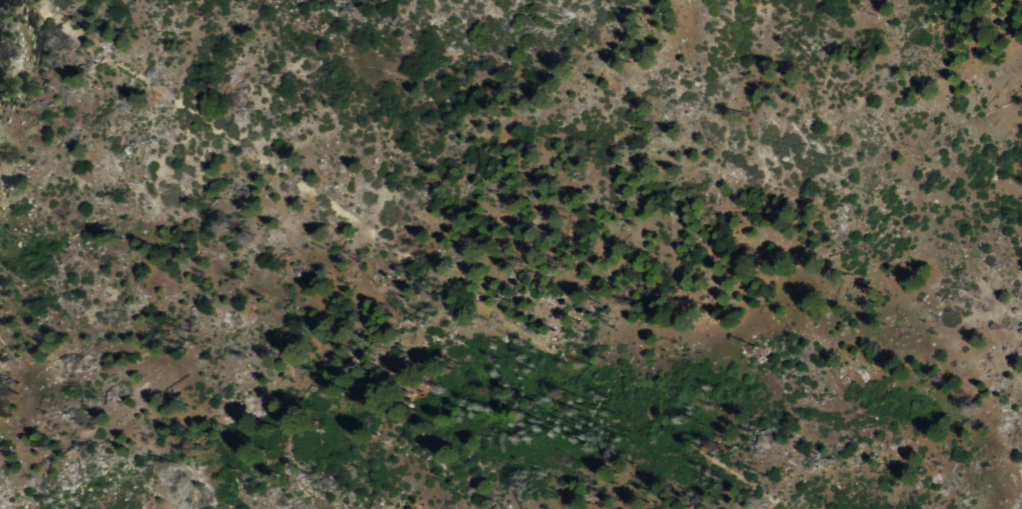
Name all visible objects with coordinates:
airstrip: (200, 118)

